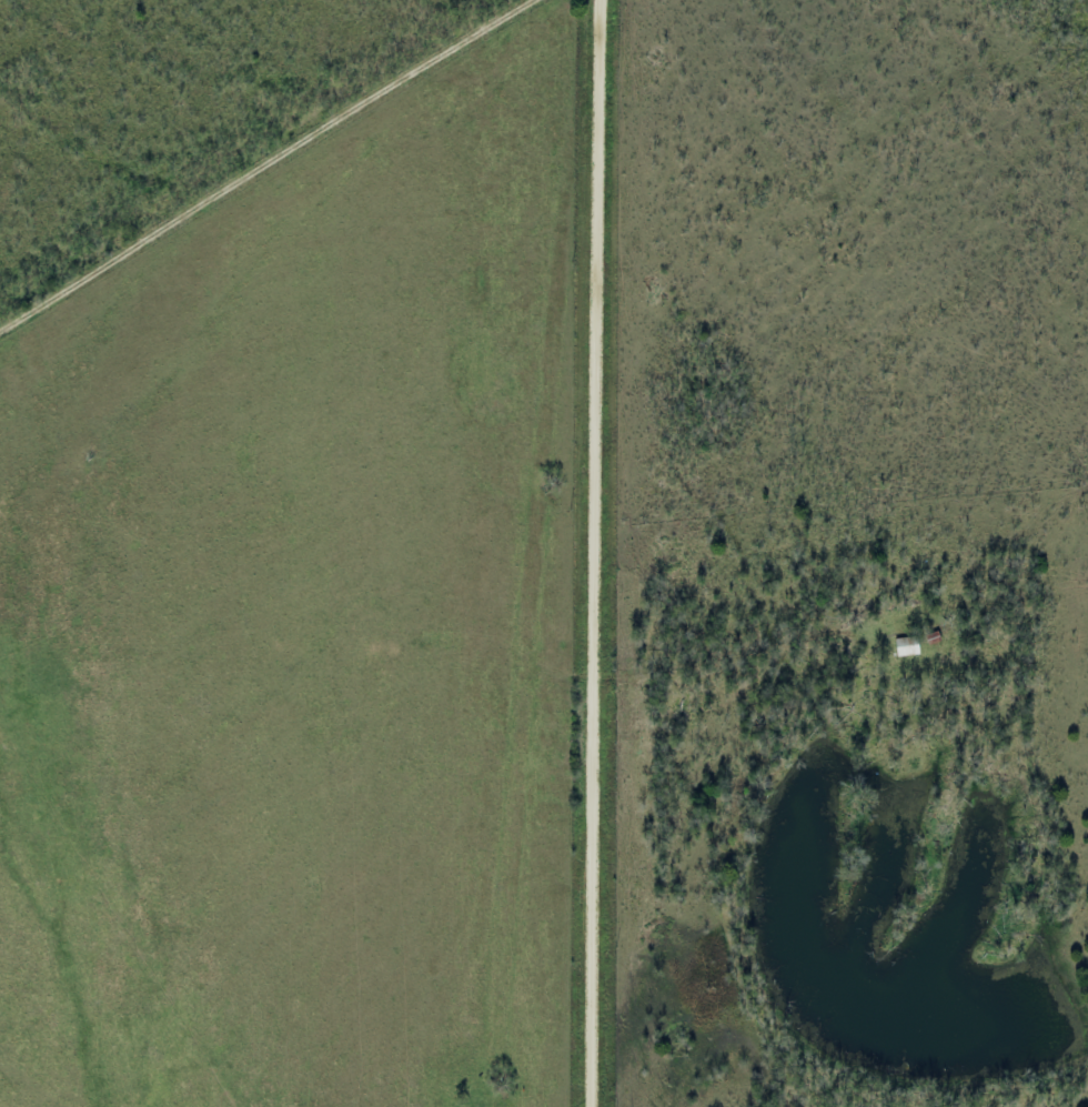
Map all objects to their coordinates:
road: (602, 553)

